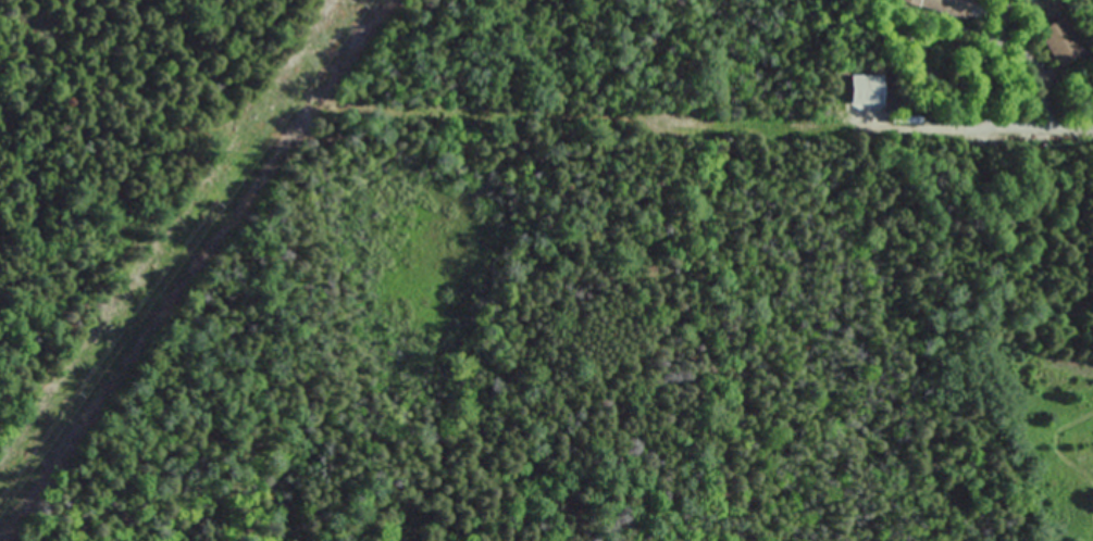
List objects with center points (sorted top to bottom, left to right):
building: (908, 1)
power tower: (357, 7)
building: (947, 7)
building: (1061, 41)
building: (862, 89)
road: (994, 130)
power tower: (210, 205)
power tower: (73, 393)

